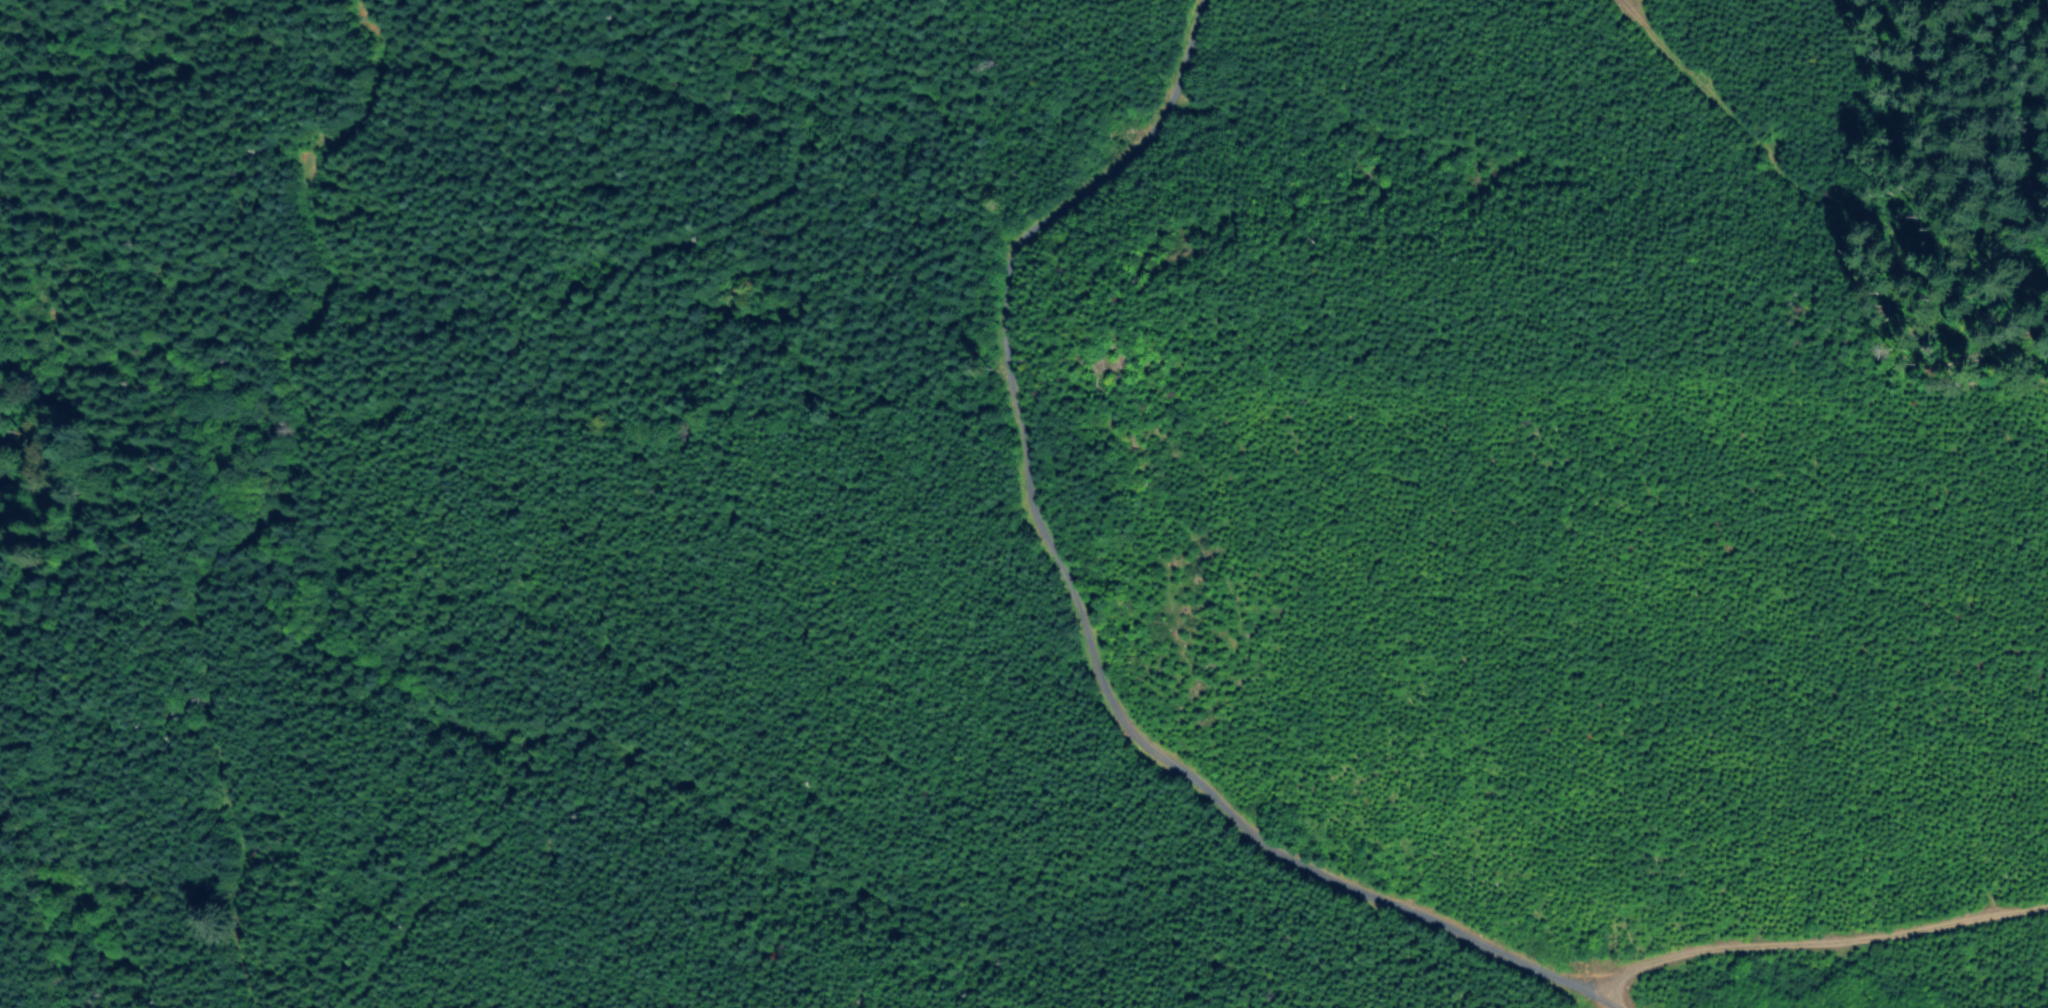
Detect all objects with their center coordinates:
road: (1496, 951)

